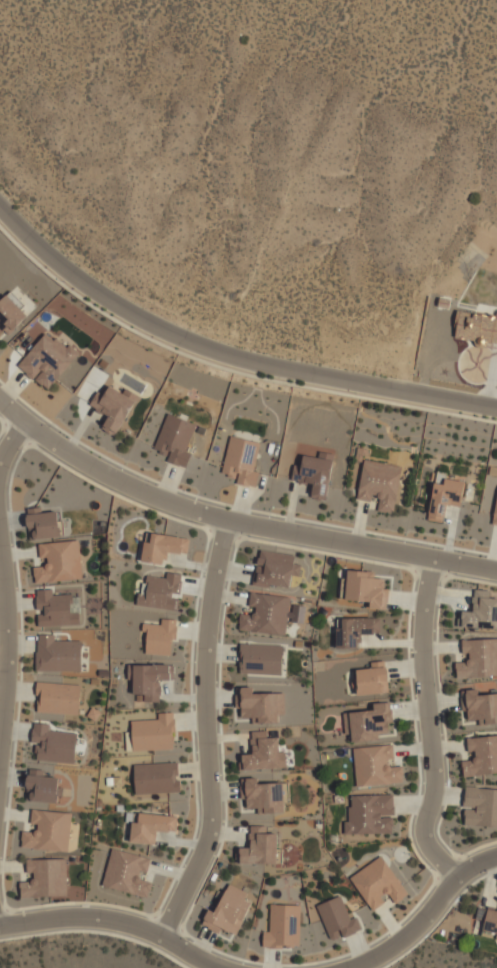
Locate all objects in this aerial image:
building: (10, 311)
building: (475, 326)
road: (229, 354)
building: (46, 358)
building: (113, 406)
building: (175, 438)
road: (10, 441)
building: (240, 459)
building: (314, 472)
building: (380, 483)
building: (444, 497)
building: (495, 512)
road: (234, 520)
building: (43, 525)
building: (161, 546)
building: (57, 561)
building: (276, 570)
building: (365, 588)
building: (157, 591)
building: (56, 607)
building: (480, 612)
building: (265, 615)
building: (355, 629)
building: (158, 637)
road: (6, 640)
building: (56, 653)
building: (259, 658)
building: (477, 658)
building: (372, 677)
building: (148, 679)
building: (56, 697)
building: (260, 705)
building: (478, 707)
building: (367, 722)
road: (428, 727)
road: (208, 731)
building: (152, 732)
building: (53, 742)
building: (262, 752)
building: (480, 756)
building: (374, 766)
building: (156, 777)
building: (43, 788)
building: (262, 796)
building: (479, 806)
building: (368, 814)
building: (150, 826)
building: (47, 831)
building: (258, 848)
building: (126, 873)
building: (44, 879)
building: (377, 883)
building: (229, 910)
road: (424, 915)
building: (337, 917)
road: (112, 919)
building: (487, 921)
building: (282, 925)

